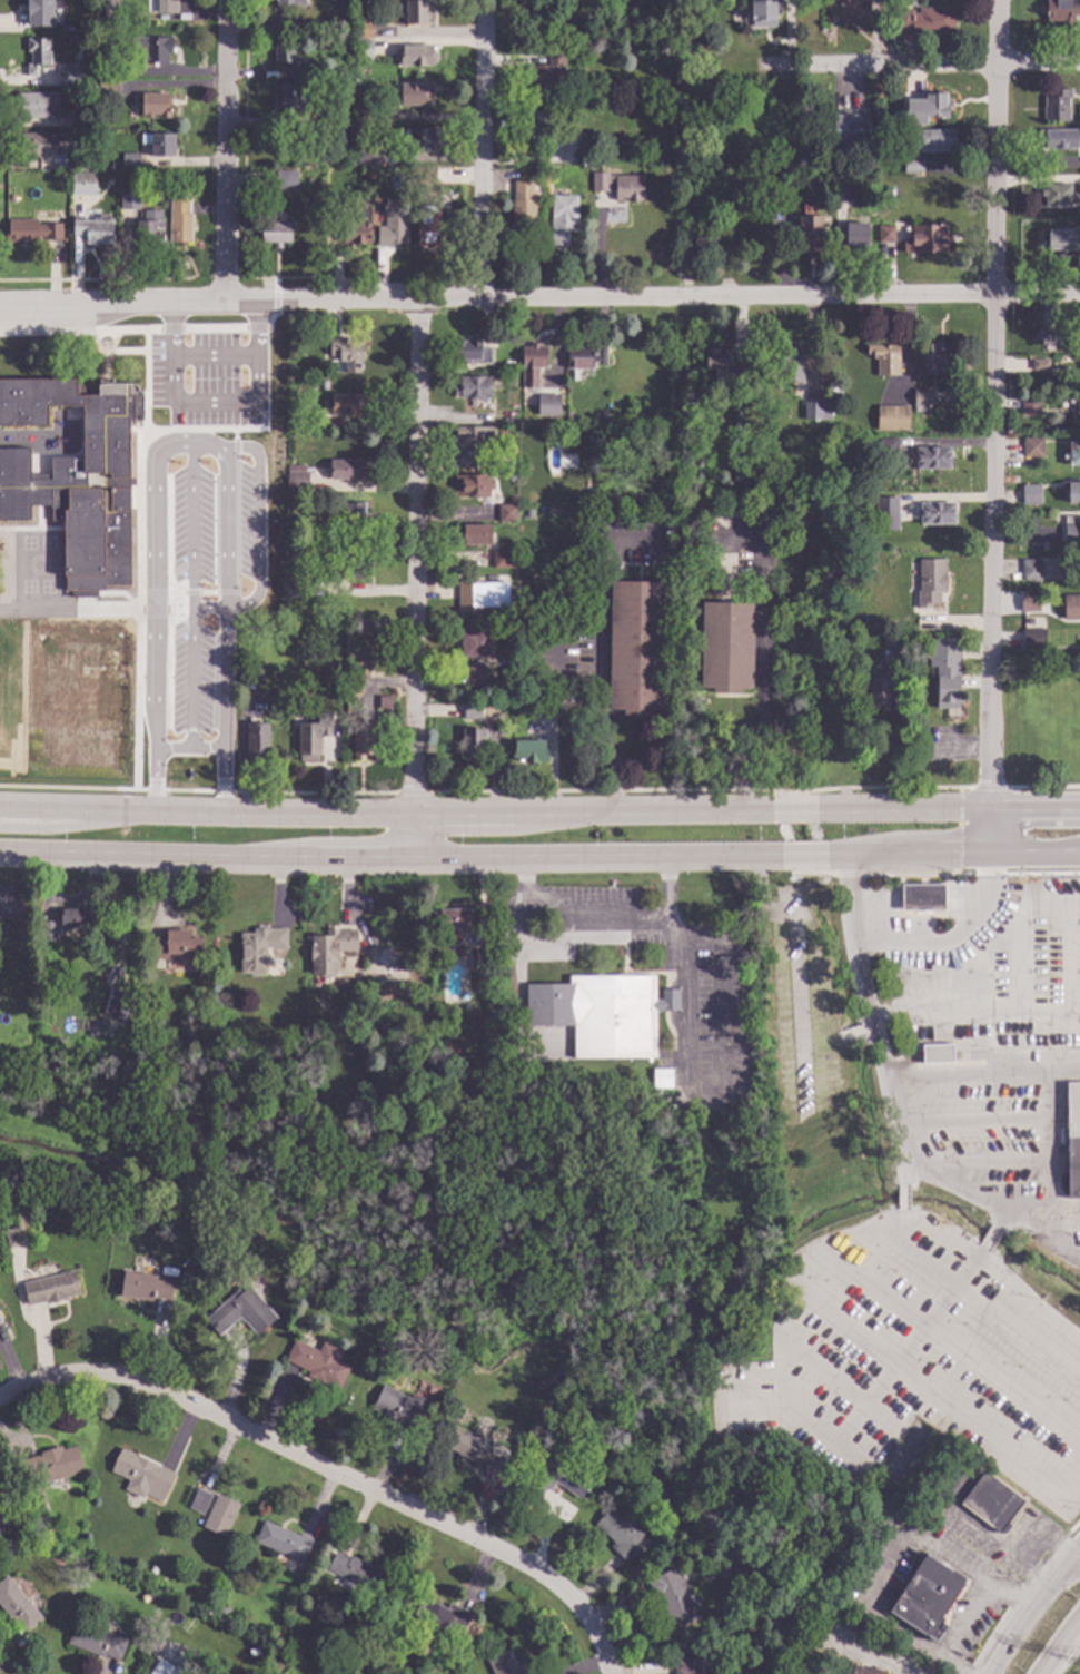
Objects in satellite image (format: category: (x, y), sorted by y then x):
building: (289, 3)
building: (167, 7)
building: (1079, 8)
building: (111, 10)
building: (1059, 10)
building: (39, 11)
building: (417, 12)
building: (853, 12)
building: (764, 13)
building: (925, 21)
building: (284, 24)
building: (365, 30)
building: (577, 39)
building: (152, 48)
building: (364, 49)
building: (416, 55)
building: (38, 56)
building: (287, 57)
road: (913, 67)
building: (107, 71)
building: (68, 77)
building: (548, 77)
building: (106, 88)
building: (344, 92)
building: (416, 93)
building: (293, 100)
building: (37, 105)
building: (155, 105)
building: (1058, 105)
building: (929, 108)
building: (364, 114)
building: (1079, 114)
building: (81, 118)
building: (542, 128)
building: (845, 129)
building: (573, 130)
building: (1059, 138)
building: (420, 139)
building: (935, 140)
building: (360, 141)
building: (41, 144)
building: (162, 145)
road: (480, 149)
road: (224, 150)
building: (368, 156)
building: (130, 159)
building: (913, 167)
building: (423, 175)
building: (60, 178)
building: (286, 179)
building: (825, 181)
building: (82, 184)
building: (618, 186)
building: (845, 191)
building: (1059, 195)
building: (130, 200)
building: (523, 206)
building: (563, 218)
building: (180, 224)
building: (393, 224)
building: (149, 228)
building: (358, 228)
building: (95, 229)
building: (30, 230)
building: (429, 230)
building: (276, 232)
building: (885, 232)
building: (809, 233)
building: (855, 235)
building: (929, 238)
building: (1060, 239)
road: (275, 296)
road: (539, 299)
road: (268, 319)
road: (212, 328)
road: (256, 328)
road: (170, 329)
road: (79, 331)
building: (1049, 336)
building: (1079, 339)
road: (96, 342)
road: (110, 342)
building: (346, 351)
road: (110, 352)
road: (158, 352)
building: (473, 352)
road: (214, 356)
building: (601, 356)
building: (581, 358)
building: (885, 358)
building: (935, 360)
building: (792, 363)
building: (533, 364)
building: (1040, 364)
building: (723, 367)
parking lot: (206, 381)
building: (323, 385)
building: (473, 387)
building: (921, 400)
road: (214, 402)
building: (547, 404)
building: (347, 405)
building: (1029, 405)
building: (1078, 410)
building: (816, 411)
road: (262, 414)
building: (313, 416)
building: (883, 425)
road: (990, 426)
building: (903, 429)
road: (153, 430)
road: (234, 435)
road: (189, 443)
building: (473, 444)
building: (888, 447)
building: (1033, 447)
building: (1074, 453)
building: (933, 457)
building: (507, 466)
building: (347, 469)
road: (152, 475)
building: (76, 477)
building: (297, 482)
building: (473, 485)
building: (1073, 493)
building: (1031, 494)
building: (893, 501)
building: (506, 513)
building: (937, 513)
building: (885, 514)
road: (38, 519)
road: (257, 521)
building: (353, 521)
parking lot: (245, 523)
road: (235, 526)
road: (31, 530)
building: (1072, 533)
building: (473, 534)
building: (1037, 545)
road: (63, 548)
building: (294, 548)
building: (504, 559)
building: (869, 568)
building: (348, 569)
road: (179, 570)
building: (1031, 570)
road: (413, 581)
building: (931, 582)
building: (1037, 587)
building: (294, 588)
road: (190, 593)
road: (207, 593)
road: (120, 594)
road: (190, 594)
building: (482, 595)
parking lot: (190, 600)
road: (175, 601)
building: (1030, 602)
road: (167, 608)
road: (208, 608)
building: (1072, 608)
road: (138, 609)
road: (108, 610)
road: (152, 610)
road: (79, 611)
building: (553, 611)
road: (764, 628)
road: (178, 632)
road: (578, 634)
building: (1033, 638)
building: (893, 640)
building: (476, 643)
building: (637, 647)
building: (726, 647)
road: (602, 650)
road: (555, 660)
building: (945, 670)
building: (475, 673)
building: (248, 681)
building: (316, 683)
building: (354, 683)
building: (880, 686)
road: (577, 687)
building: (384, 703)
building: (541, 705)
building: (473, 710)
building: (364, 738)
building: (309, 739)
building: (257, 740)
road: (207, 747)
building: (474, 747)
road: (172, 748)
building: (528, 751)
road: (752, 760)
road: (67, 788)
road: (749, 791)
road: (947, 809)
road: (796, 811)
road: (388, 813)
road: (56, 828)
road: (951, 854)
road: (801, 857)
road: (389, 860)
building: (922, 896)
building: (10, 903)
building: (72, 917)
building: (453, 918)
road: (575, 919)
building: (50, 930)
road: (953, 934)
building: (172, 945)
building: (260, 948)
building: (330, 951)
building: (484, 958)
building: (48, 1006)
building: (118, 1006)
building: (152, 1010)
road: (871, 1012)
building: (616, 1015)
building: (937, 1054)
road: (981, 1076)
building: (662, 1079)
building: (497, 1087)
road: (717, 1091)
road: (972, 1125)
building: (1071, 1140)
road: (1053, 1173)
road: (900, 1176)
park: (418, 1195)
road: (984, 1199)
road: (901, 1200)
road: (1068, 1214)
road: (1000, 1215)
building: (95, 1223)
building: (119, 1227)
building: (13, 1238)
road: (987, 1238)
road: (978, 1253)
building: (143, 1286)
building: (51, 1289)
road: (1028, 1300)
building: (240, 1312)
building: (1, 1319)
building: (319, 1363)
building: (543, 1383)
road: (777, 1383)
road: (932, 1389)
building: (397, 1408)
building: (474, 1451)
building: (52, 1465)
road: (330, 1470)
building: (142, 1475)
road: (1072, 1476)
building: (555, 1479)
building: (200, 1500)
building: (992, 1501)
building: (220, 1515)
building: (620, 1534)
building: (284, 1540)
building: (38, 1543)
building: (355, 1572)
building: (792, 1589)
road: (1017, 1592)
building: (779, 1594)
building: (927, 1595)
building: (147, 1596)
building: (674, 1596)
building: (17, 1605)
building: (222, 1608)
road: (1030, 1611)
road: (970, 1615)
building: (440, 1617)
building: (96, 1641)
road: (1059, 1647)
building: (255, 1652)
road: (876, 1660)
road: (955, 1662)
building: (504, 1663)
building: (685, 1665)
building: (167, 1668)
building: (863, 1671)
road: (967, 1672)

